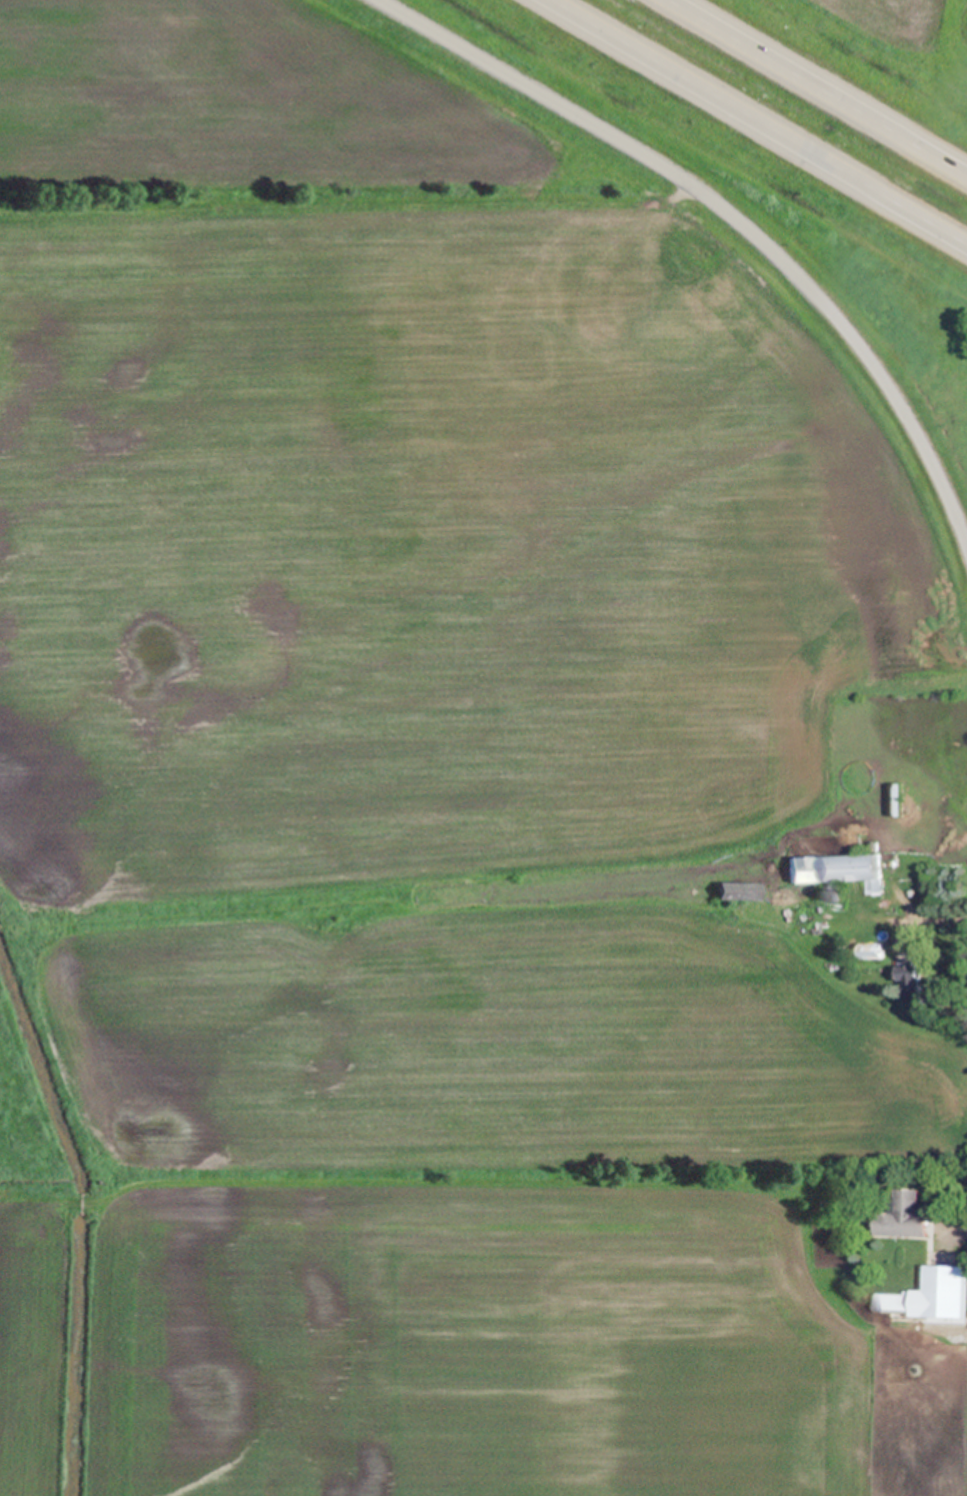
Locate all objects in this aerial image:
road: (816, 88)
road: (759, 121)
road: (731, 215)
building: (898, 799)
building: (839, 867)
building: (739, 890)
building: (821, 895)
road: (929, 920)
building: (1, 925)
building: (873, 950)
building: (913, 978)
building: (822, 1201)
building: (885, 1202)
building: (905, 1213)
building: (946, 1290)
building: (895, 1303)

